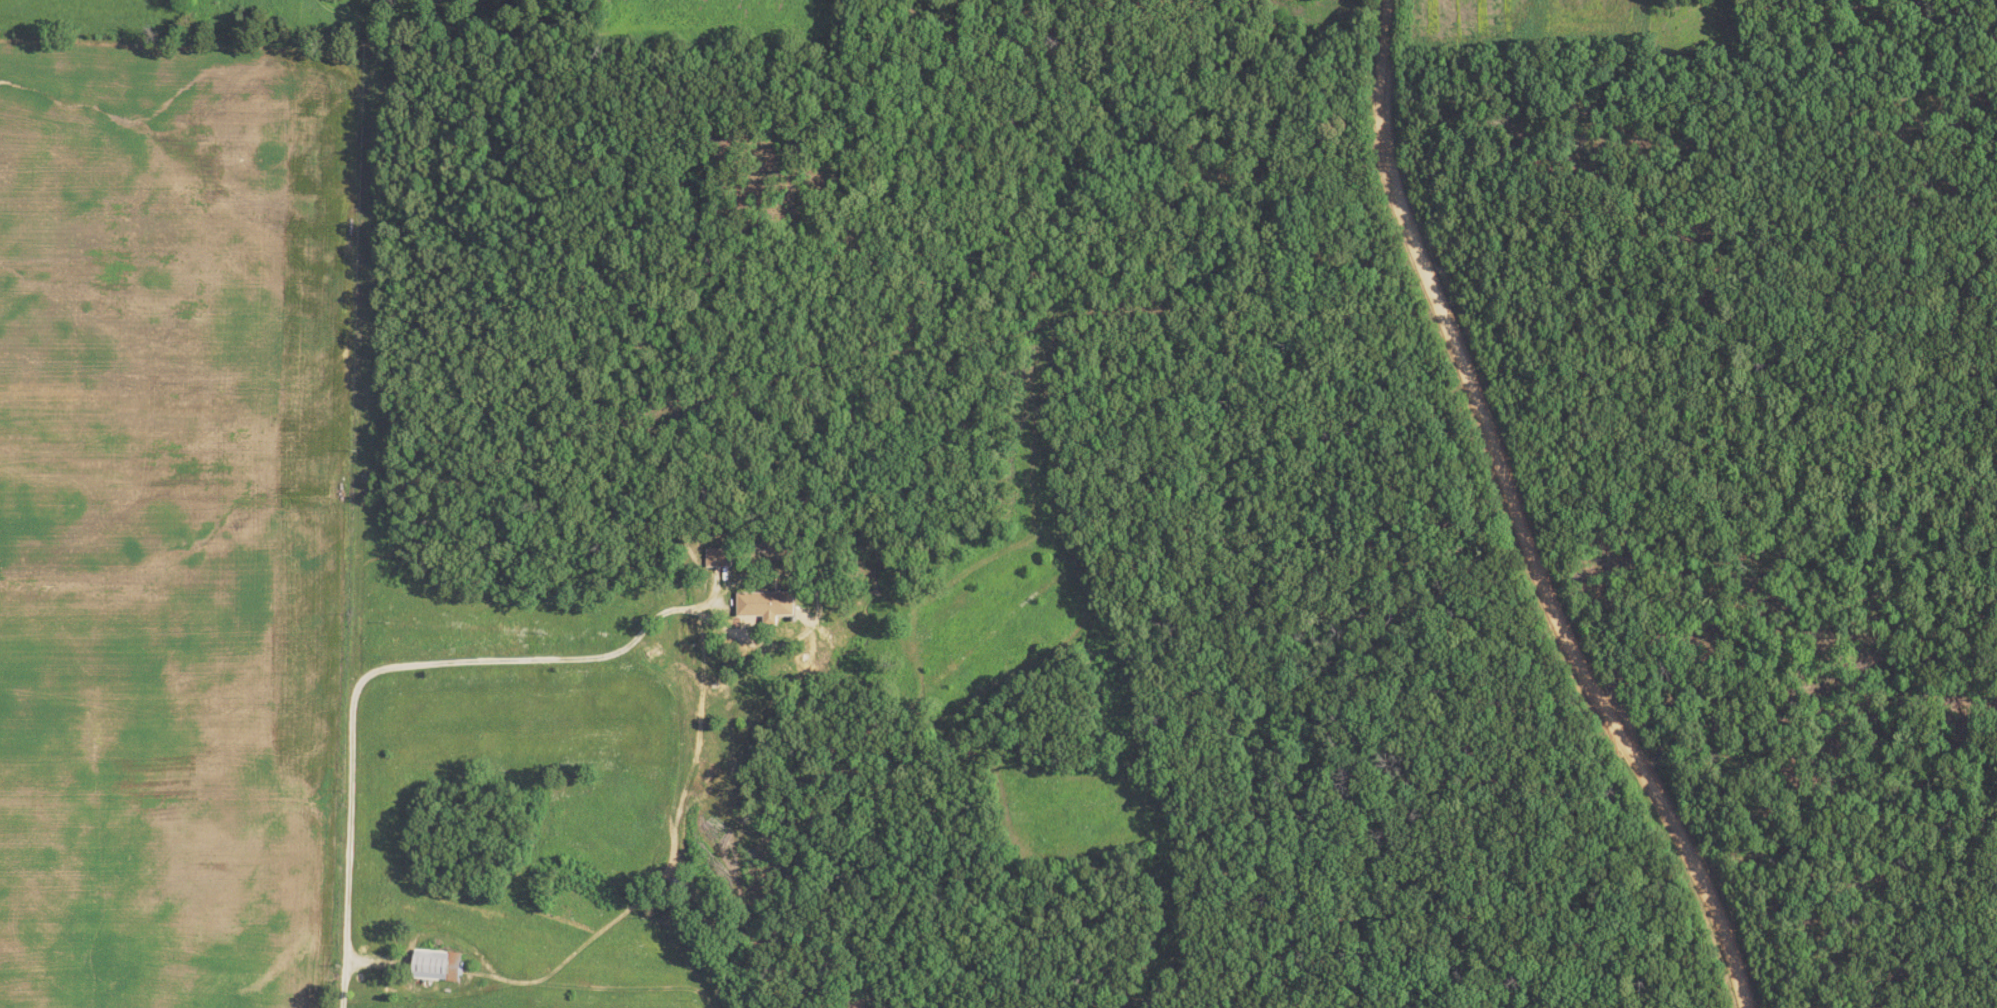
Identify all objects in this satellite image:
road: (1509, 520)
building: (718, 558)
building: (771, 607)
road: (403, 666)
road: (581, 939)

